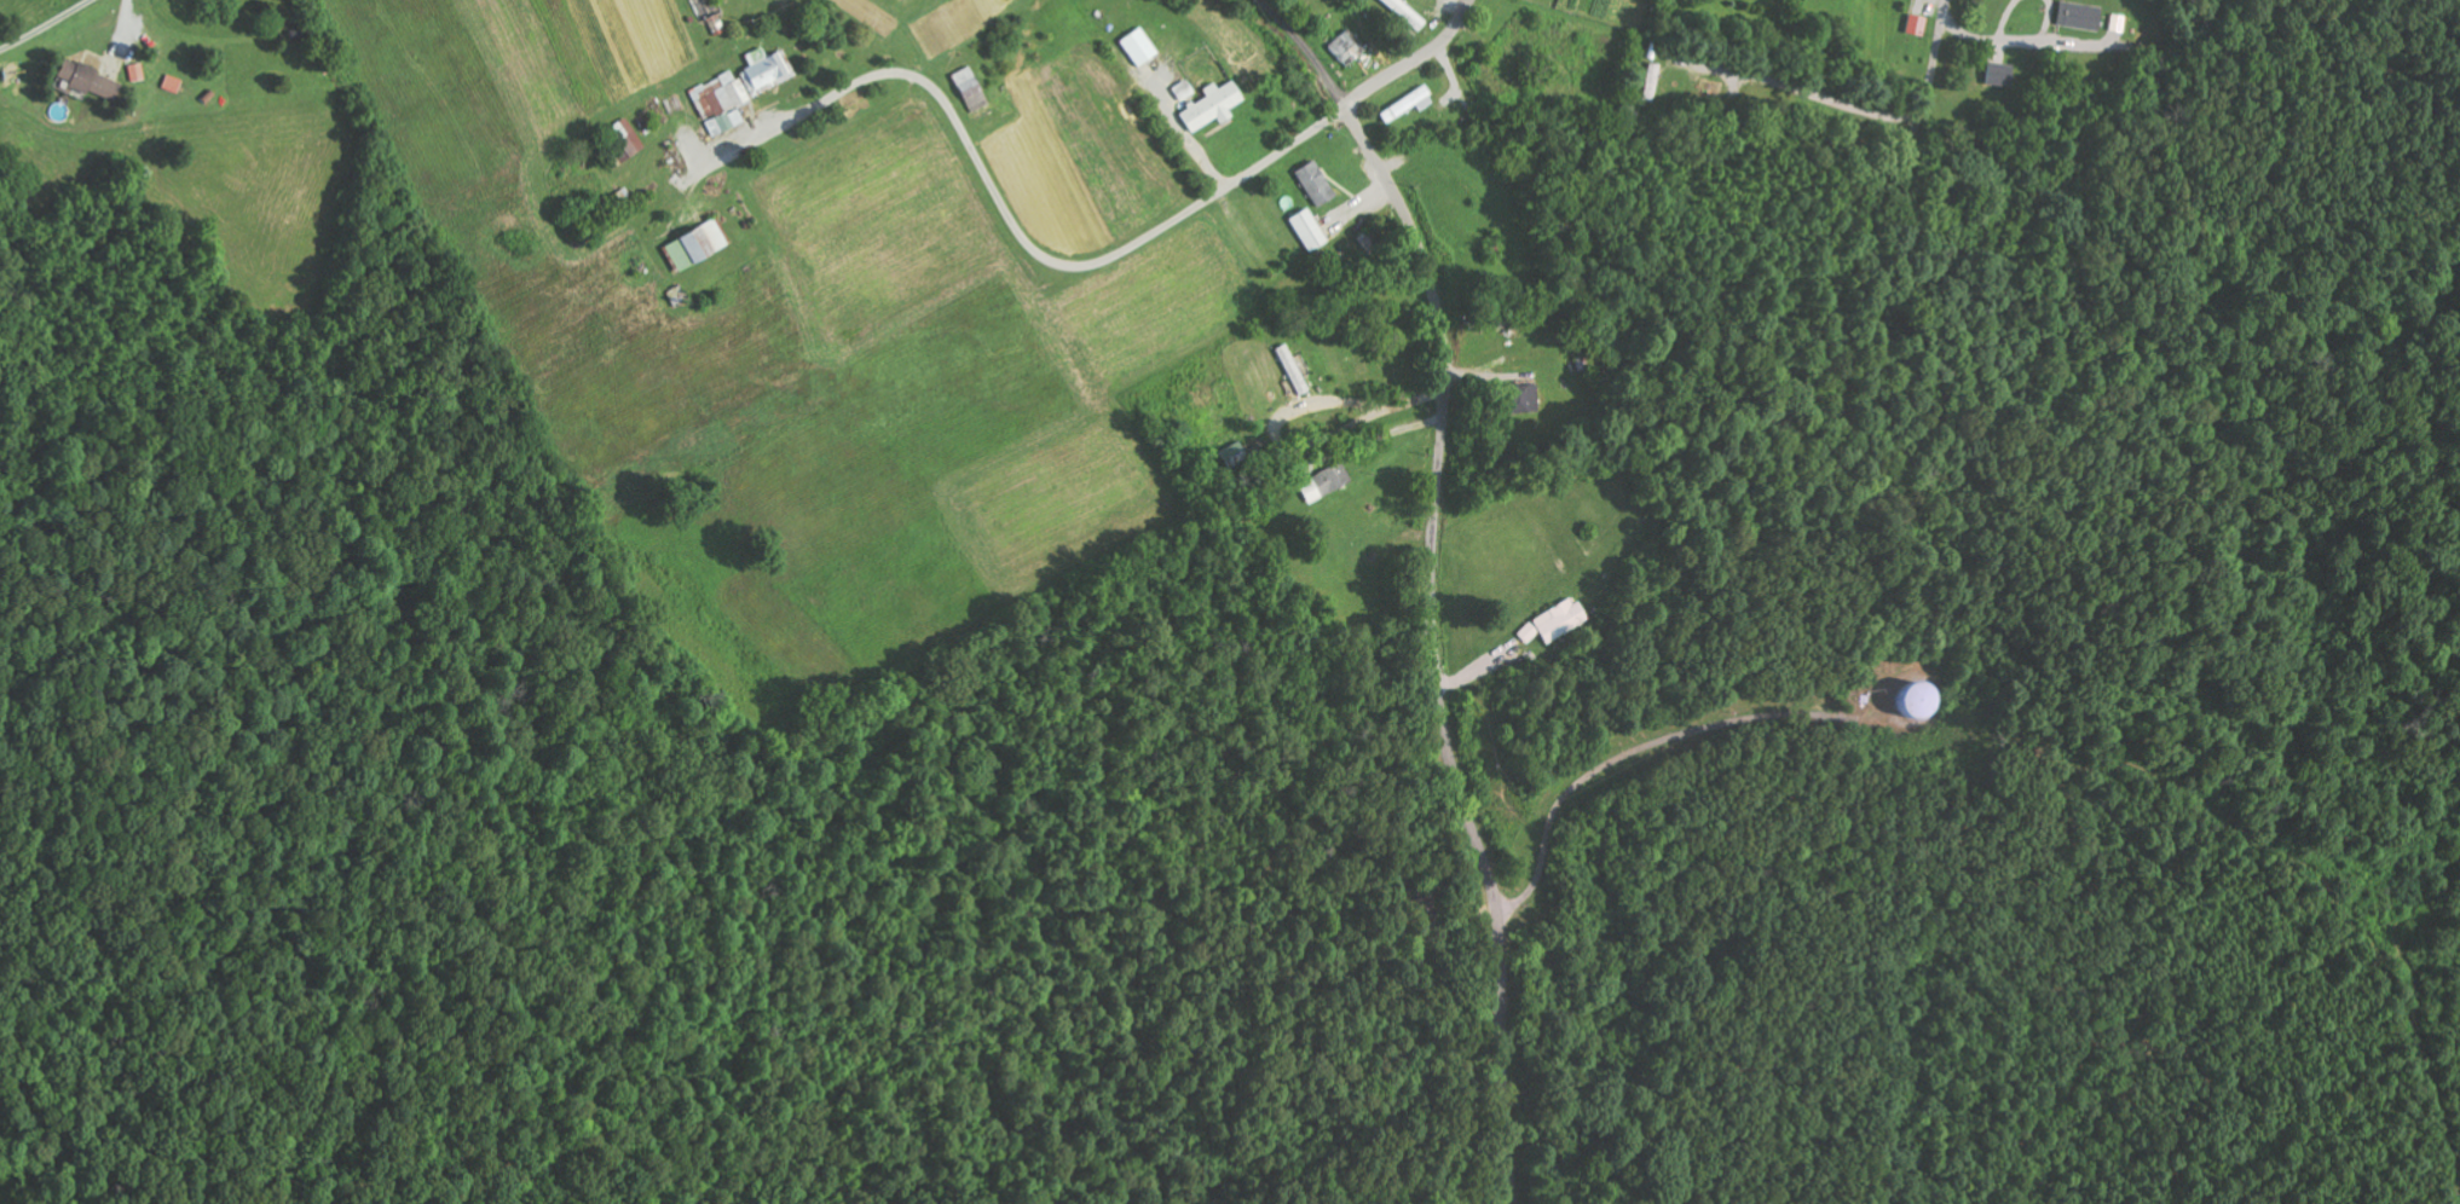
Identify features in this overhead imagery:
building: (1401, 13)
building: (2075, 15)
building: (1912, 24)
building: (1136, 47)
road: (1306, 50)
road: (1413, 62)
building: (768, 70)
building: (138, 71)
building: (1994, 74)
building: (93, 80)
building: (971, 88)
building: (1178, 91)
building: (723, 102)
building: (1402, 104)
building: (1207, 105)
road: (1922, 109)
road: (964, 129)
building: (624, 143)
road: (1247, 173)
building: (1311, 183)
building: (1310, 231)
building: (700, 244)
road: (1045, 245)
building: (1514, 398)
building: (1312, 482)
road: (1432, 648)
building: (1900, 701)
road: (1425, 1160)

